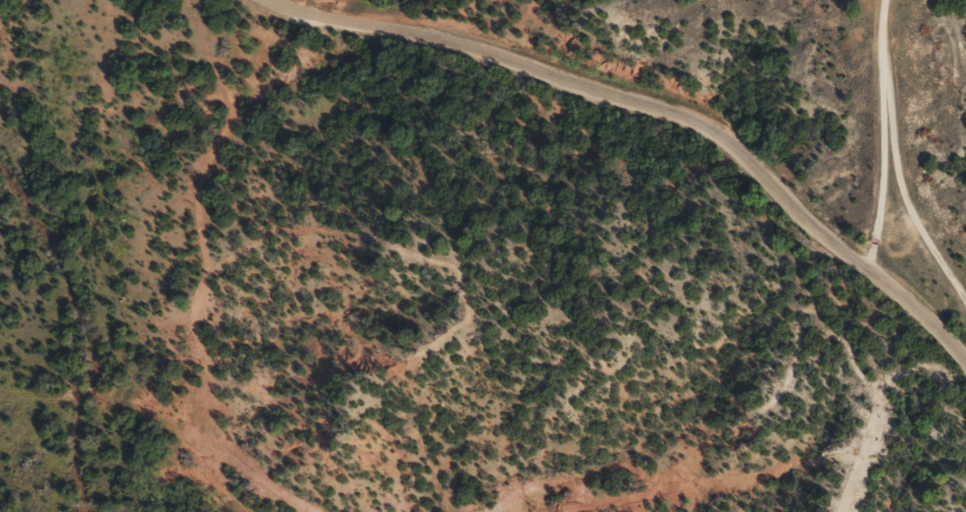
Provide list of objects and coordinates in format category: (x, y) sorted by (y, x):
road: (669, 106)
road: (885, 132)
road: (904, 190)

